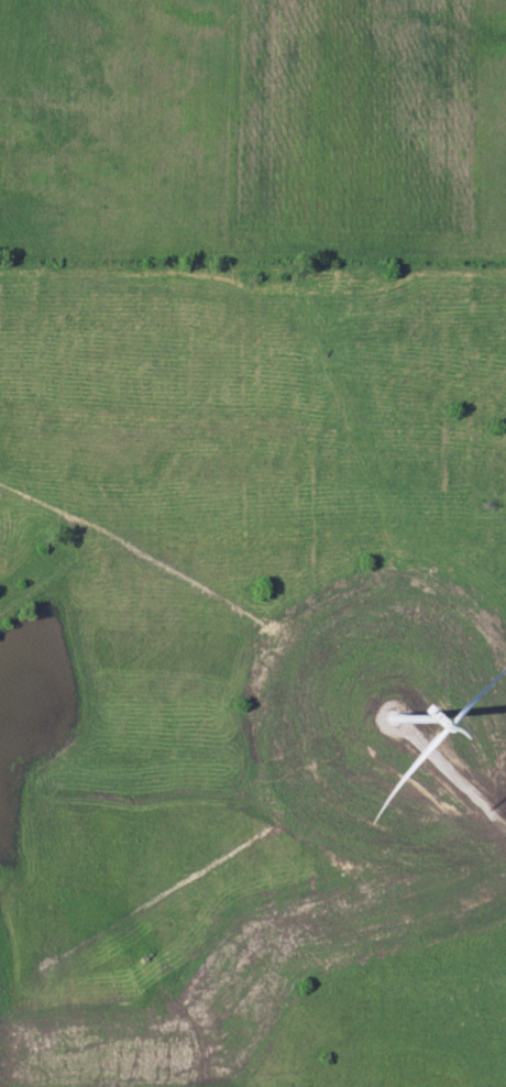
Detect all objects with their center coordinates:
wind turbine: (392, 721)

